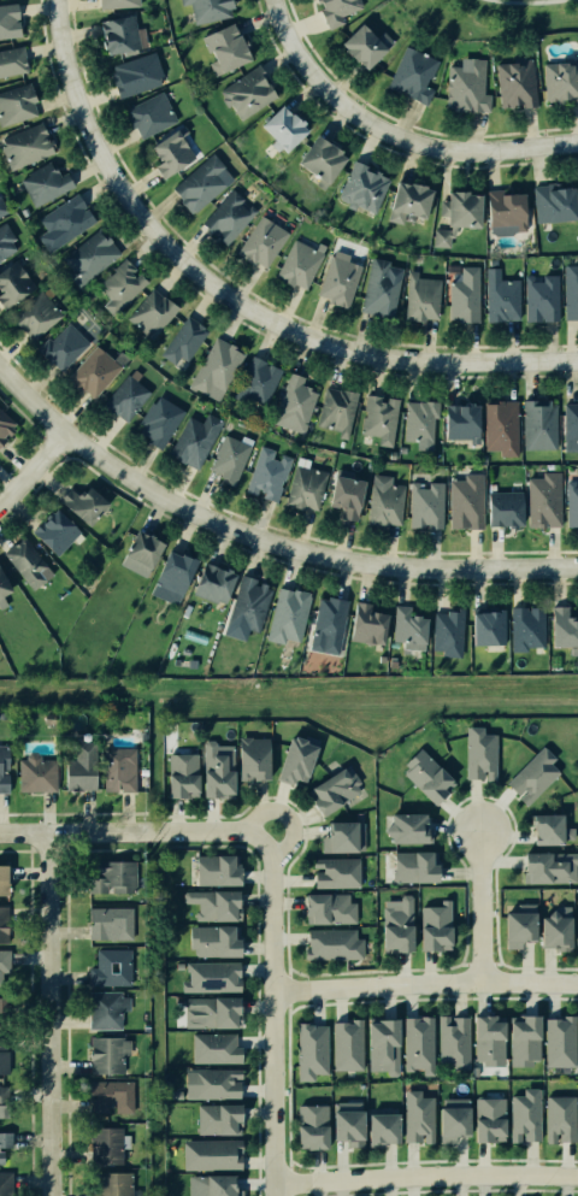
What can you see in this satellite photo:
building: (113, 2)
road: (530, 4)
building: (207, 10)
building: (335, 10)
park: (494, 16)
building: (6, 18)
building: (117, 31)
building: (362, 43)
building: (222, 46)
building: (8, 59)
building: (132, 72)
building: (407, 75)
building: (514, 82)
building: (560, 83)
building: (464, 84)
building: (244, 94)
building: (16, 102)
building: (146, 112)
building: (276, 129)
road: (390, 136)
building: (23, 146)
building: (165, 152)
building: (315, 158)
building: (200, 181)
building: (42, 183)
building: (358, 187)
building: (402, 199)
building: (550, 202)
building: (456, 207)
building: (1, 208)
building: (501, 210)
building: (224, 216)
building: (64, 220)
building: (437, 238)
building: (5, 240)
building: (260, 242)
building: (84, 257)
building: (295, 264)
building: (337, 279)
building: (10, 282)
building: (377, 285)
building: (117, 288)
building: (570, 290)
building: (460, 295)
building: (497, 295)
building: (417, 296)
building: (537, 296)
road: (232, 297)
building: (148, 314)
building: (34, 317)
building: (181, 342)
building: (60, 348)
building: (216, 366)
building: (94, 375)
building: (256, 381)
building: (124, 400)
building: (291, 402)
building: (334, 412)
building: (157, 419)
building: (378, 420)
building: (456, 420)
building: (418, 422)
building: (570, 423)
building: (537, 424)
building: (2, 426)
building: (497, 428)
building: (190, 440)
building: (228, 459)
road: (29, 465)
building: (264, 476)
building: (303, 489)
building: (342, 495)
building: (462, 500)
building: (541, 501)
building: (571, 501)
building: (79, 502)
building: (421, 502)
building: (382, 503)
building: (501, 506)
building: (52, 531)
road: (260, 537)
building: (134, 548)
building: (24, 564)
building: (169, 577)
building: (208, 584)
building: (1, 587)
building: (246, 603)
building: (284, 615)
building: (366, 623)
building: (560, 623)
building: (325, 624)
building: (484, 624)
building: (407, 626)
building: (521, 626)
building: (444, 631)
building: (482, 753)
building: (258, 759)
building: (0, 761)
building: (299, 761)
building: (119, 767)
building: (222, 768)
building: (77, 770)
building: (533, 772)
building: (35, 773)
building: (184, 774)
building: (431, 776)
building: (337, 790)
road: (287, 813)
building: (412, 827)
building: (553, 827)
road: (129, 831)
building: (347, 835)
building: (177, 866)
building: (419, 866)
building: (553, 867)
building: (220, 871)
building: (332, 871)
building: (1, 878)
building: (110, 878)
building: (218, 903)
road: (482, 905)
building: (329, 909)
building: (108, 921)
building: (577, 923)
building: (520, 924)
building: (4, 925)
building: (397, 925)
building: (435, 926)
building: (556, 931)
building: (217, 943)
building: (331, 945)
building: (2, 959)
building: (110, 970)
building: (214, 977)
road: (425, 982)
building: (5, 1007)
building: (107, 1013)
building: (214, 1013)
road: (55, 1014)
road: (273, 1014)
building: (455, 1039)
building: (491, 1039)
building: (527, 1039)
building: (561, 1042)
building: (419, 1043)
building: (349, 1044)
building: (387, 1045)
building: (313, 1049)
building: (218, 1051)
building: (104, 1055)
building: (2, 1060)
building: (216, 1084)
building: (106, 1097)
building: (4, 1102)
building: (527, 1115)
building: (419, 1117)
building: (493, 1119)
building: (562, 1119)
building: (222, 1121)
building: (456, 1123)
building: (314, 1125)
building: (352, 1125)
building: (387, 1127)
building: (5, 1138)
building: (104, 1145)
building: (213, 1154)
building: (0, 1156)
road: (425, 1176)
building: (2, 1184)
building: (110, 1185)
building: (222, 1186)

